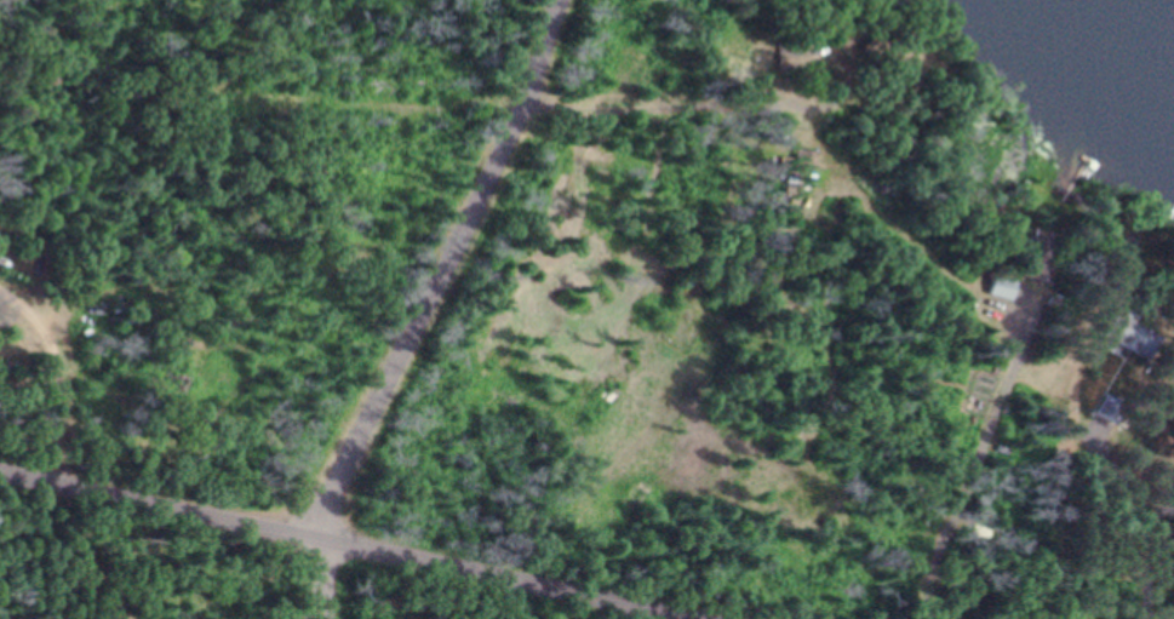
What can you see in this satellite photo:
road: (440, 271)
road: (345, 545)
road: (311, 578)

